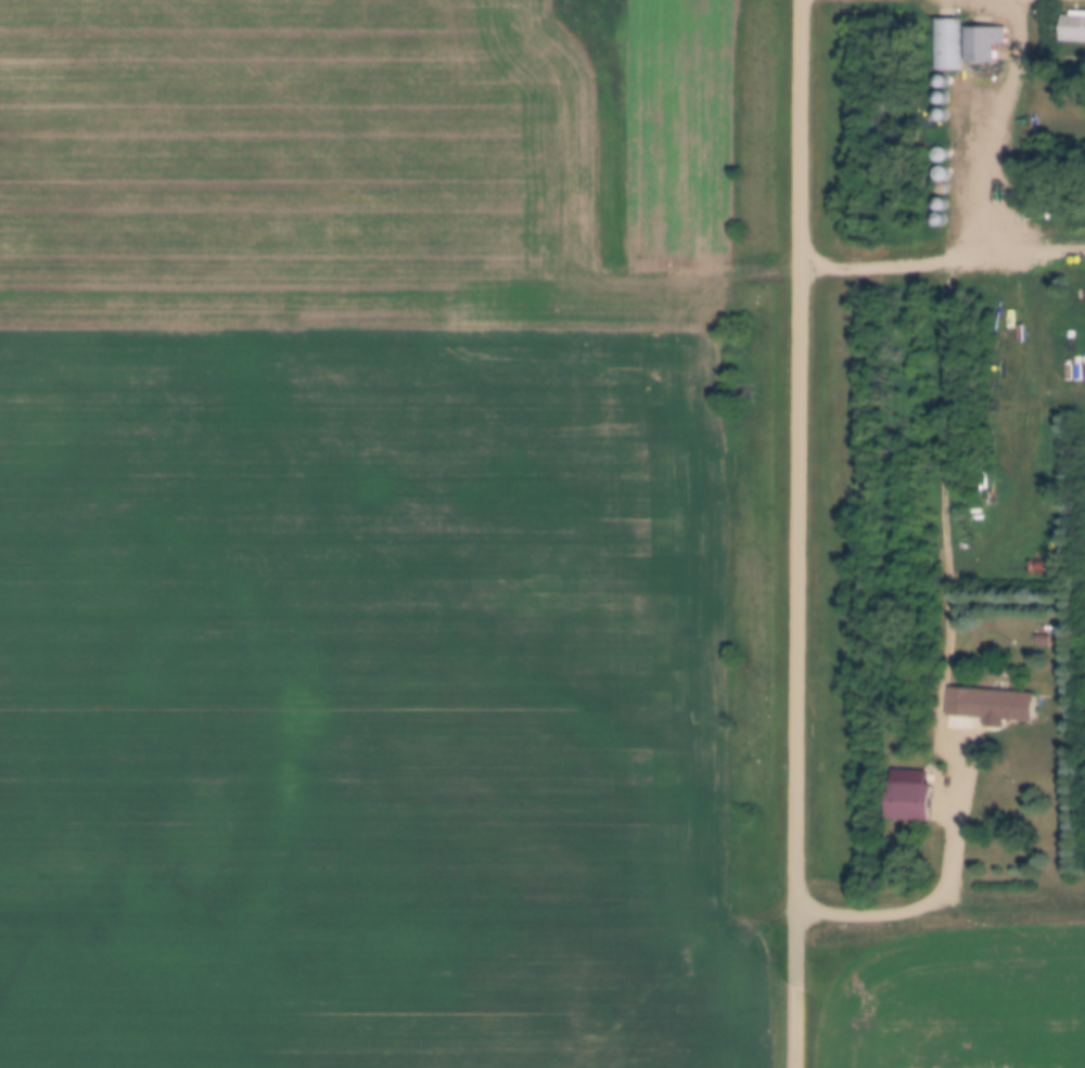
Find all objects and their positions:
building: (1073, 28)
building: (984, 44)
building: (942, 46)
building: (939, 156)
building: (939, 177)
road: (941, 259)
road: (796, 533)
building: (990, 705)
building: (911, 802)
road: (942, 891)

